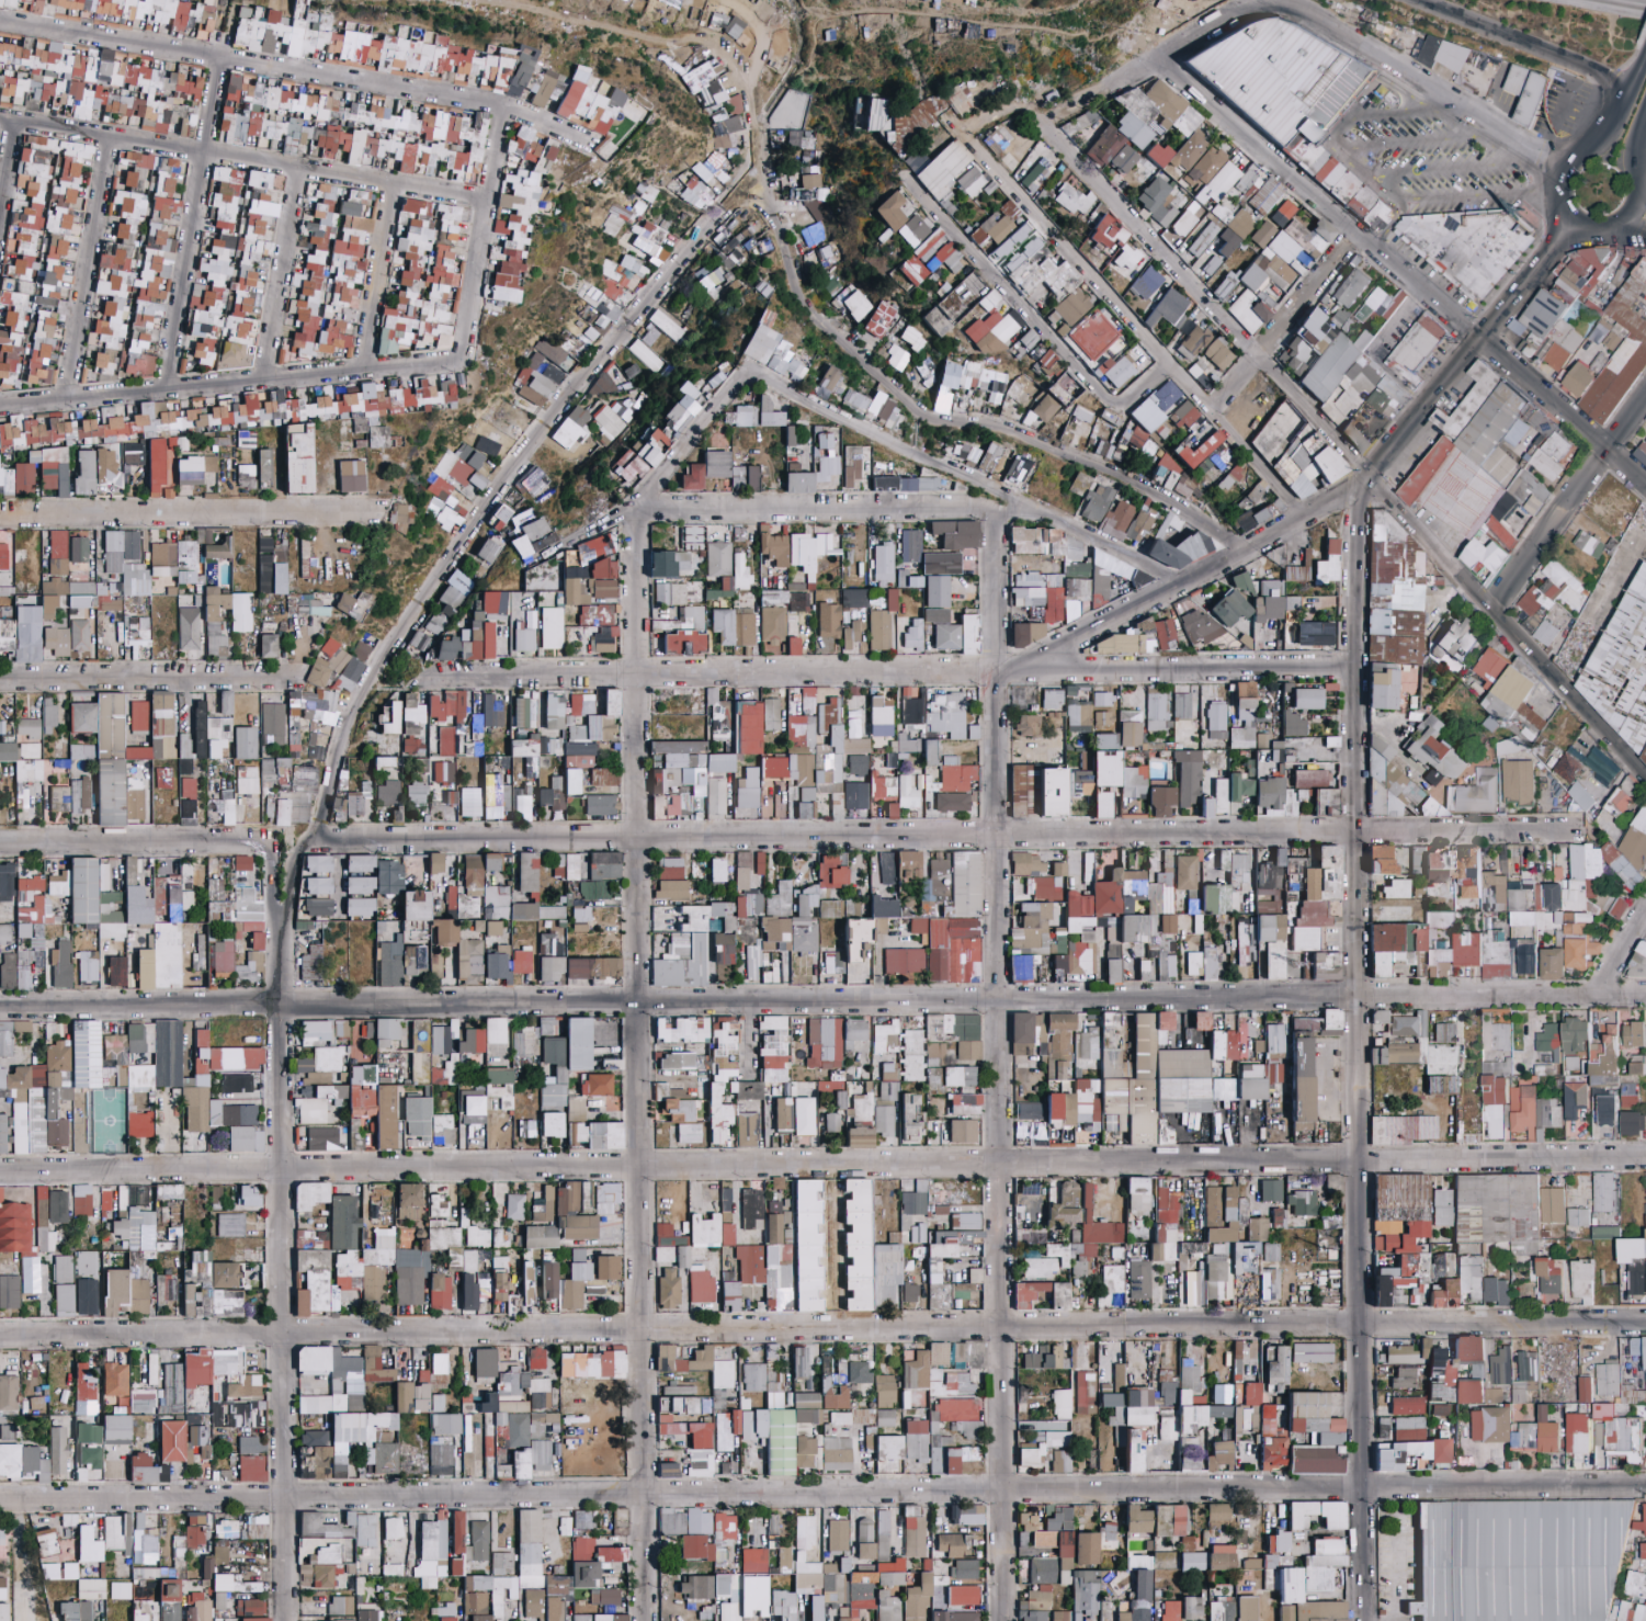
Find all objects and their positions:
park: (1605, 157)

